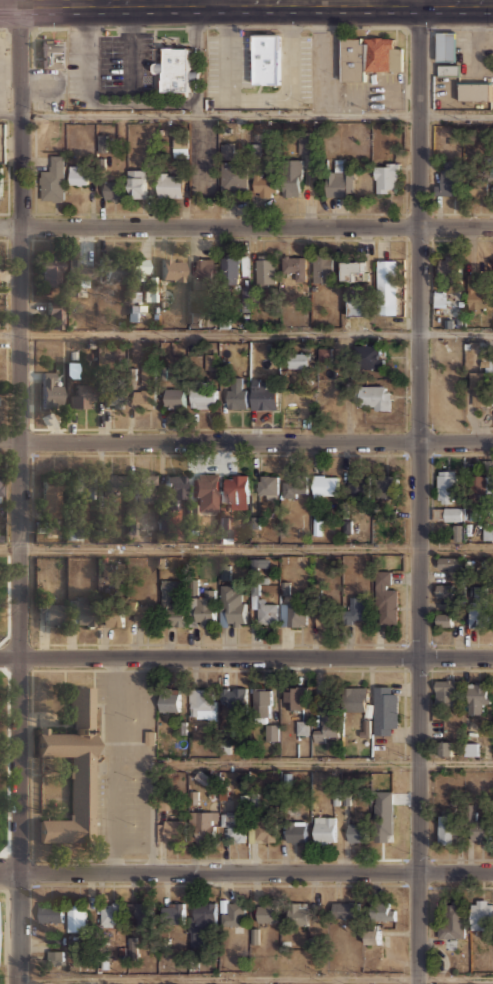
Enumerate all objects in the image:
road: (213, 0)
road: (246, 1)
building: (445, 46)
building: (53, 51)
building: (368, 57)
building: (264, 60)
parking lot: (227, 63)
parking lot: (109, 64)
building: (176, 68)
parking lot: (304, 69)
building: (449, 70)
building: (473, 92)
road: (246, 115)
building: (181, 142)
building: (102, 143)
building: (308, 145)
building: (227, 150)
building: (78, 174)
building: (233, 177)
building: (291, 177)
building: (387, 177)
building: (53, 178)
building: (449, 179)
building: (341, 181)
building: (0, 182)
building: (137, 182)
building: (170, 184)
building: (478, 184)
building: (264, 185)
building: (113, 189)
road: (3, 213)
road: (246, 227)
road: (6, 238)
building: (295, 266)
building: (322, 267)
building: (138, 268)
building: (449, 268)
building: (114, 269)
building: (172, 269)
building: (230, 269)
building: (266, 269)
building: (354, 270)
building: (51, 271)
building: (204, 272)
building: (79, 274)
building: (386, 286)
building: (443, 298)
building: (480, 298)
building: (359, 308)
building: (56, 316)
road: (246, 332)
building: (325, 354)
building: (368, 354)
building: (298, 359)
building: (211, 360)
building: (479, 388)
building: (146, 389)
building: (265, 391)
building: (237, 392)
building: (51, 396)
building: (79, 396)
building: (202, 396)
building: (114, 397)
building: (174, 397)
building: (376, 397)
road: (2, 428)
road: (3, 428)
road: (111, 428)
road: (246, 443)
road: (219, 453)
road: (1, 454)
road: (462, 454)
building: (325, 484)
building: (356, 484)
building: (205, 485)
building: (268, 485)
building: (447, 485)
building: (294, 486)
building: (0, 487)
building: (143, 487)
building: (175, 487)
building: (387, 487)
building: (83, 488)
building: (113, 488)
building: (235, 488)
building: (479, 489)
road: (20, 492)
road: (418, 492)
road: (430, 497)
road: (33, 498)
building: (51, 499)
building: (447, 513)
building: (225, 529)
building: (457, 532)
road: (246, 547)
building: (449, 561)
building: (258, 562)
building: (225, 572)
building: (444, 589)
road: (9, 599)
building: (385, 599)
building: (173, 600)
building: (232, 603)
building: (479, 606)
building: (205, 607)
building: (355, 608)
building: (82, 611)
building: (266, 611)
building: (51, 613)
building: (145, 613)
building: (114, 614)
building: (293, 614)
building: (325, 616)
building: (445, 618)
road: (257, 643)
road: (474, 644)
road: (246, 658)
road: (4, 669)
building: (448, 692)
building: (234, 696)
building: (297, 697)
building: (478, 697)
building: (356, 698)
building: (262, 700)
park: (4, 701)
building: (169, 702)
building: (202, 703)
building: (386, 710)
road: (33, 722)
building: (303, 727)
building: (326, 729)
building: (272, 731)
building: (446, 747)
building: (471, 748)
road: (9, 761)
parking lot: (123, 764)
road: (323, 764)
road: (114, 765)
road: (153, 765)
building: (72, 769)
road: (43, 773)
road: (41, 815)
building: (383, 816)
building: (202, 825)
building: (234, 825)
building: (324, 829)
building: (444, 829)
building: (170, 830)
building: (264, 830)
building: (481, 830)
building: (296, 831)
building: (356, 832)
road: (17, 856)
road: (71, 859)
road: (418, 859)
road: (32, 872)
road: (246, 873)
building: (345, 908)
building: (382, 911)
building: (232, 912)
building: (267, 912)
building: (51, 913)
building: (111, 913)
building: (297, 913)
building: (143, 914)
building: (172, 914)
building: (482, 914)
building: (76, 917)
building: (201, 922)
road: (4, 925)
building: (450, 928)
building: (372, 935)
building: (55, 956)
road: (9, 969)
road: (455, 977)
road: (218, 978)

